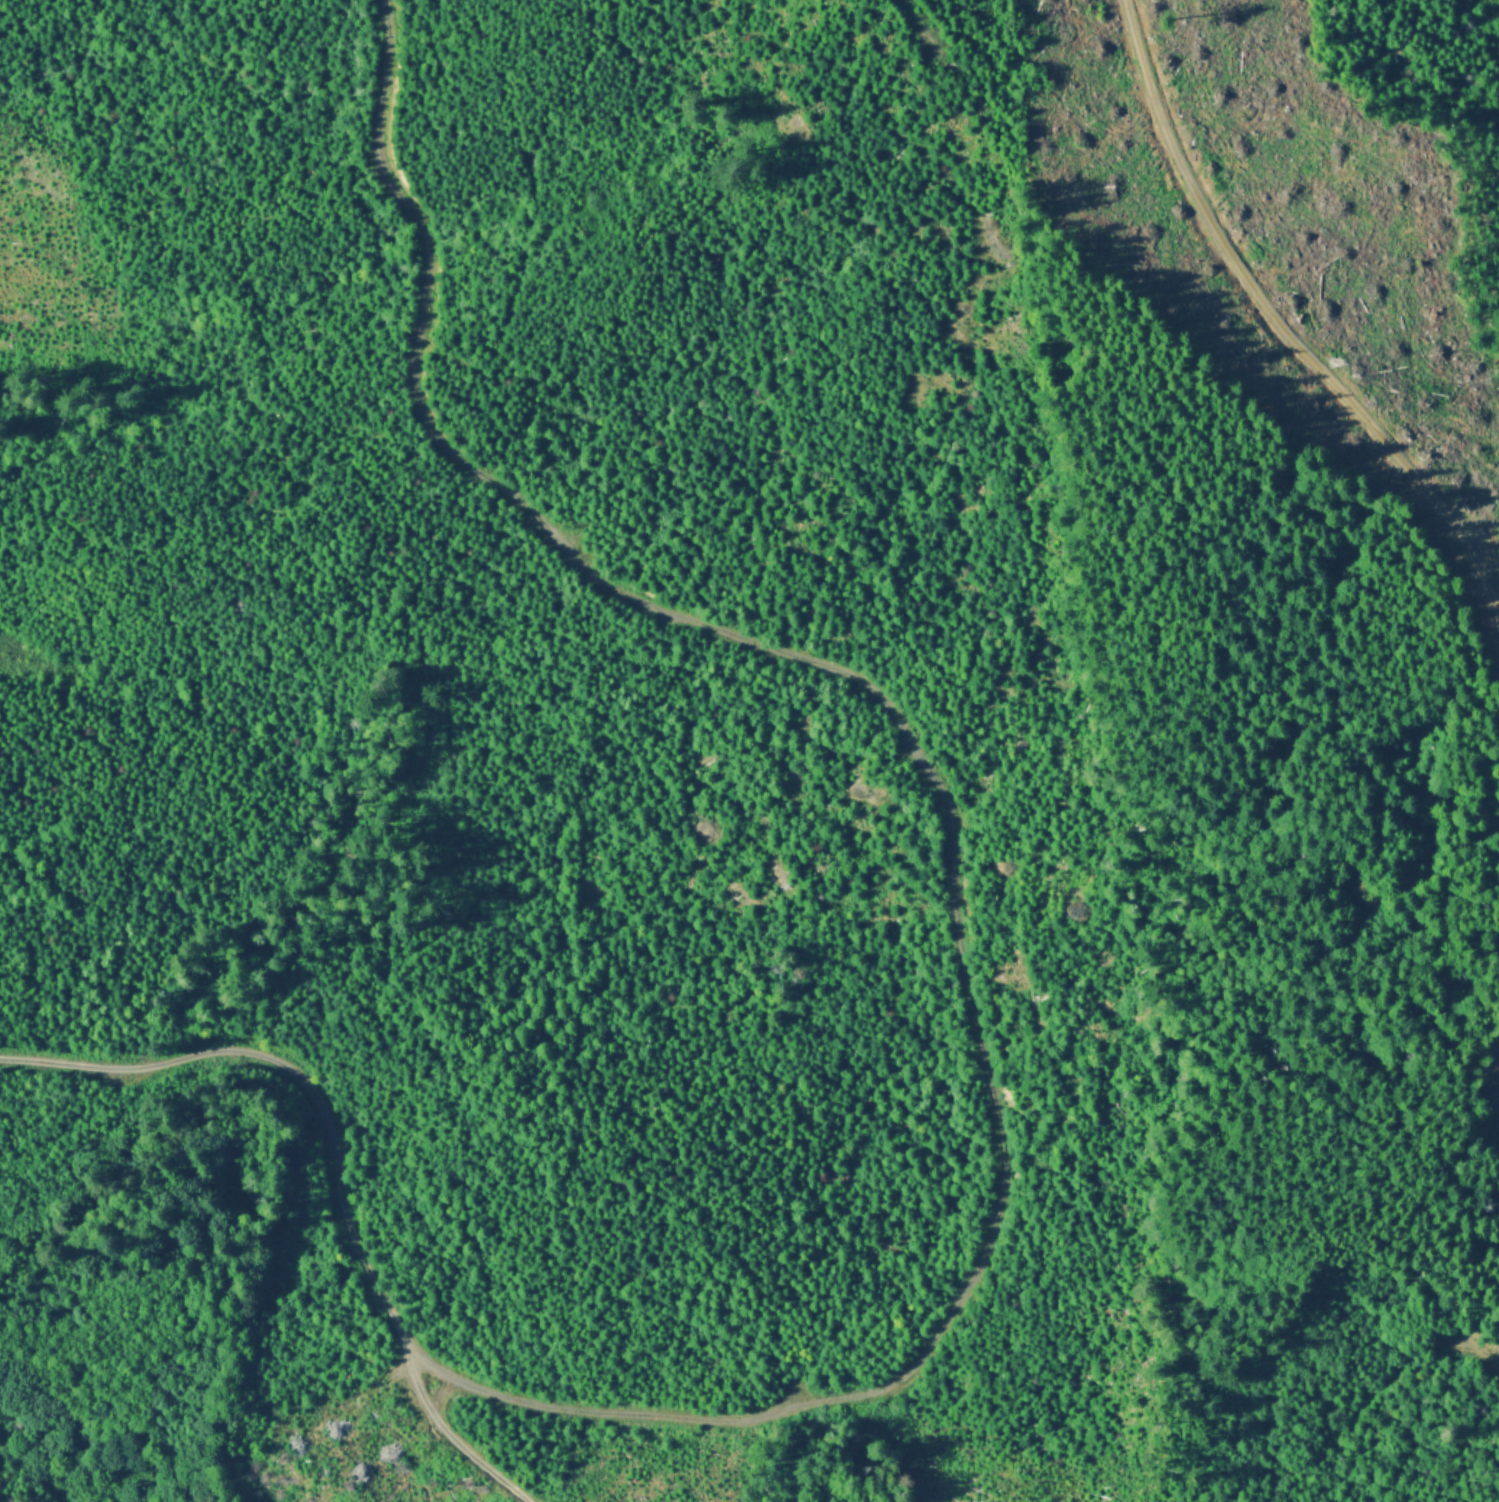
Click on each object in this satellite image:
road: (1306, 266)
road: (1486, 1081)
road: (295, 1345)

